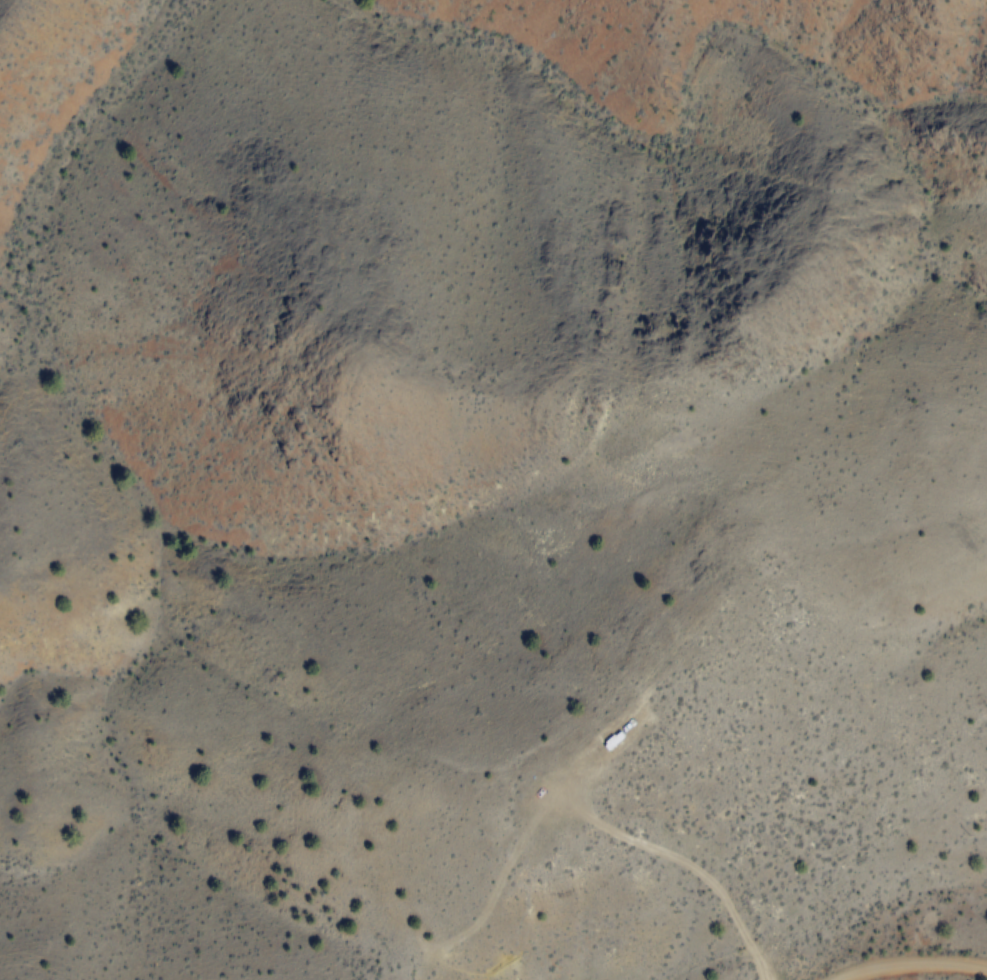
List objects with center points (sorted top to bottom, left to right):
road: (538, 792)
road: (705, 877)
road: (905, 960)

